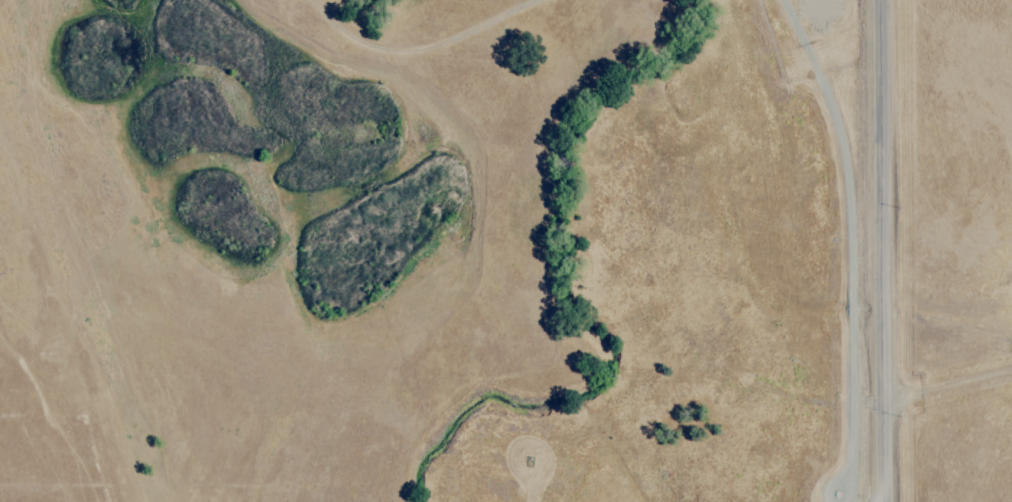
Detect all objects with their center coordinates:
road: (818, 12)
road: (847, 244)
road: (884, 251)

